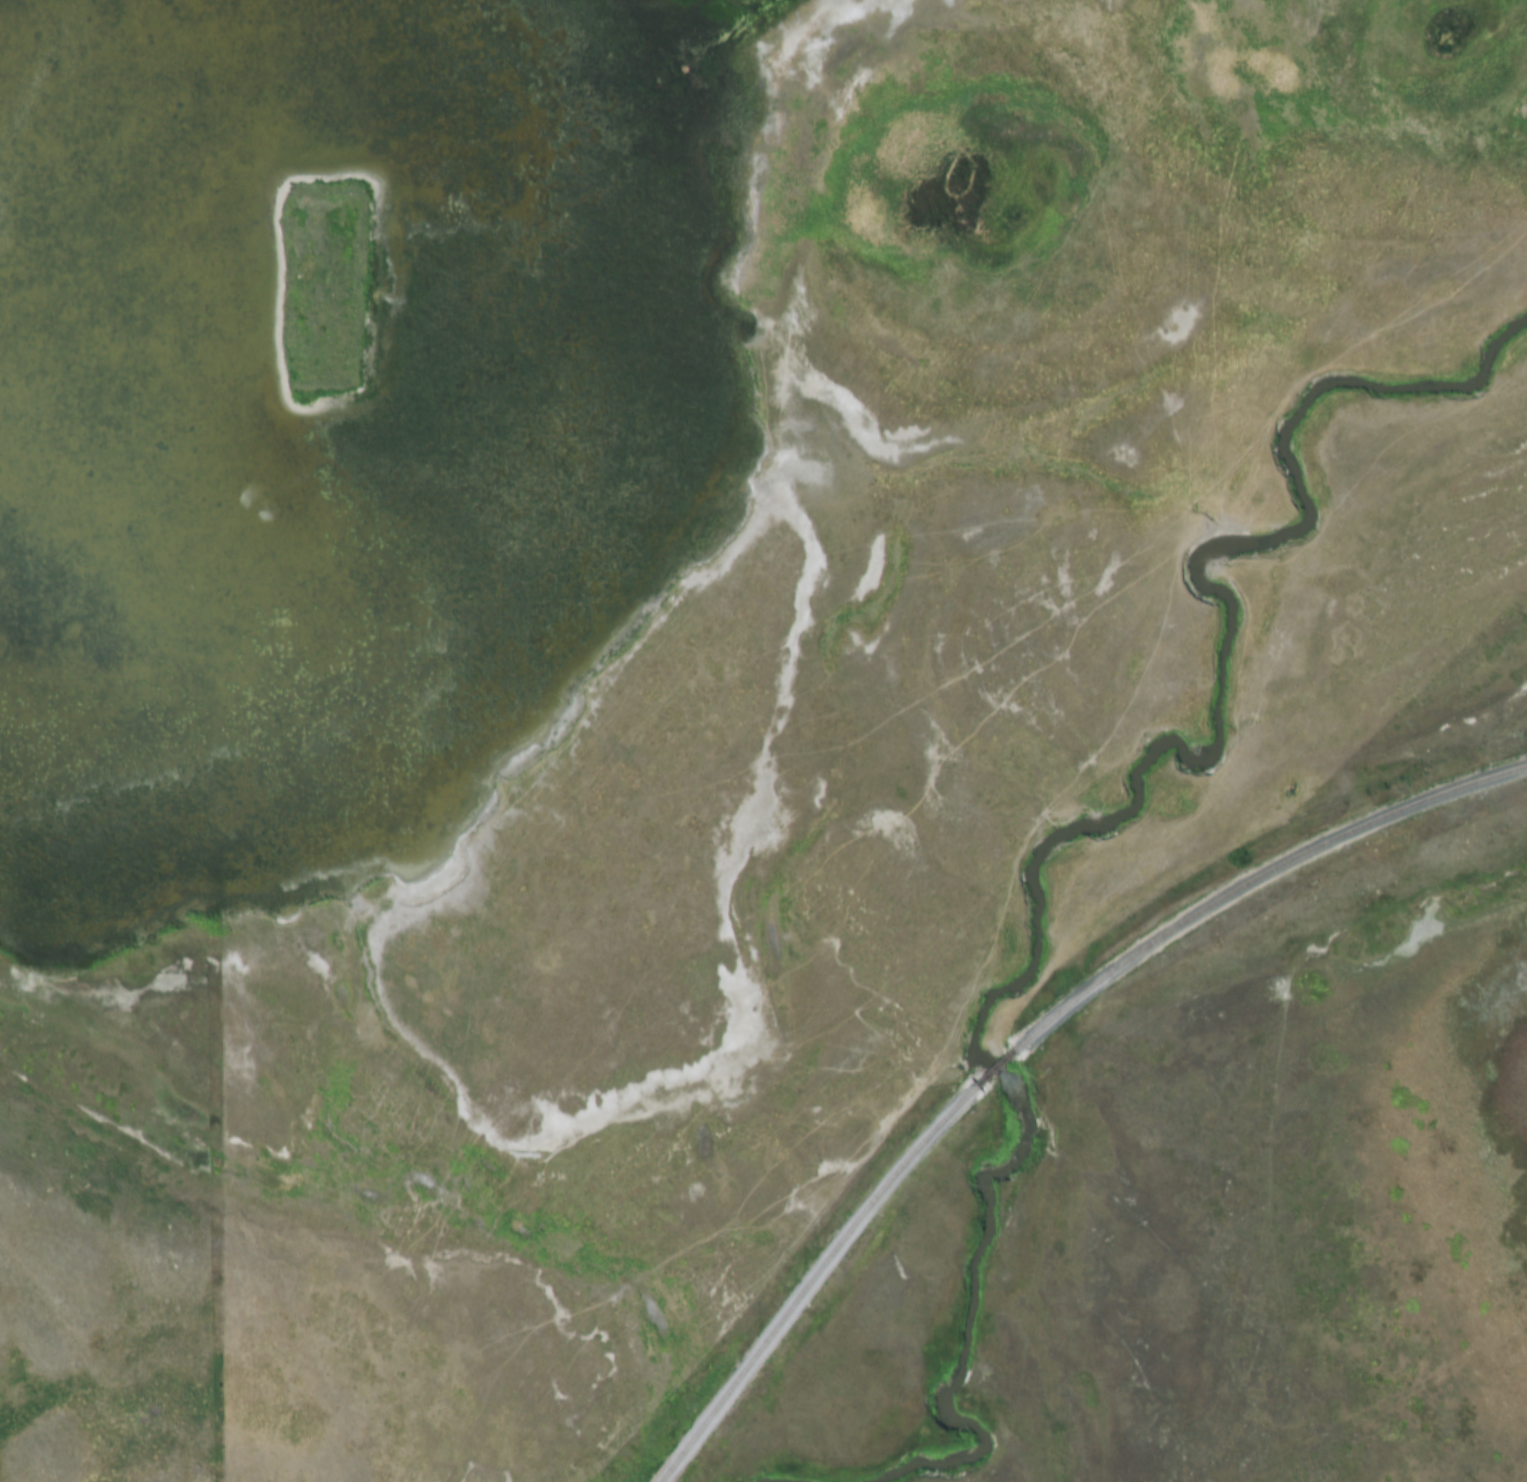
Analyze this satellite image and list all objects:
railway: (1031, 1051)

